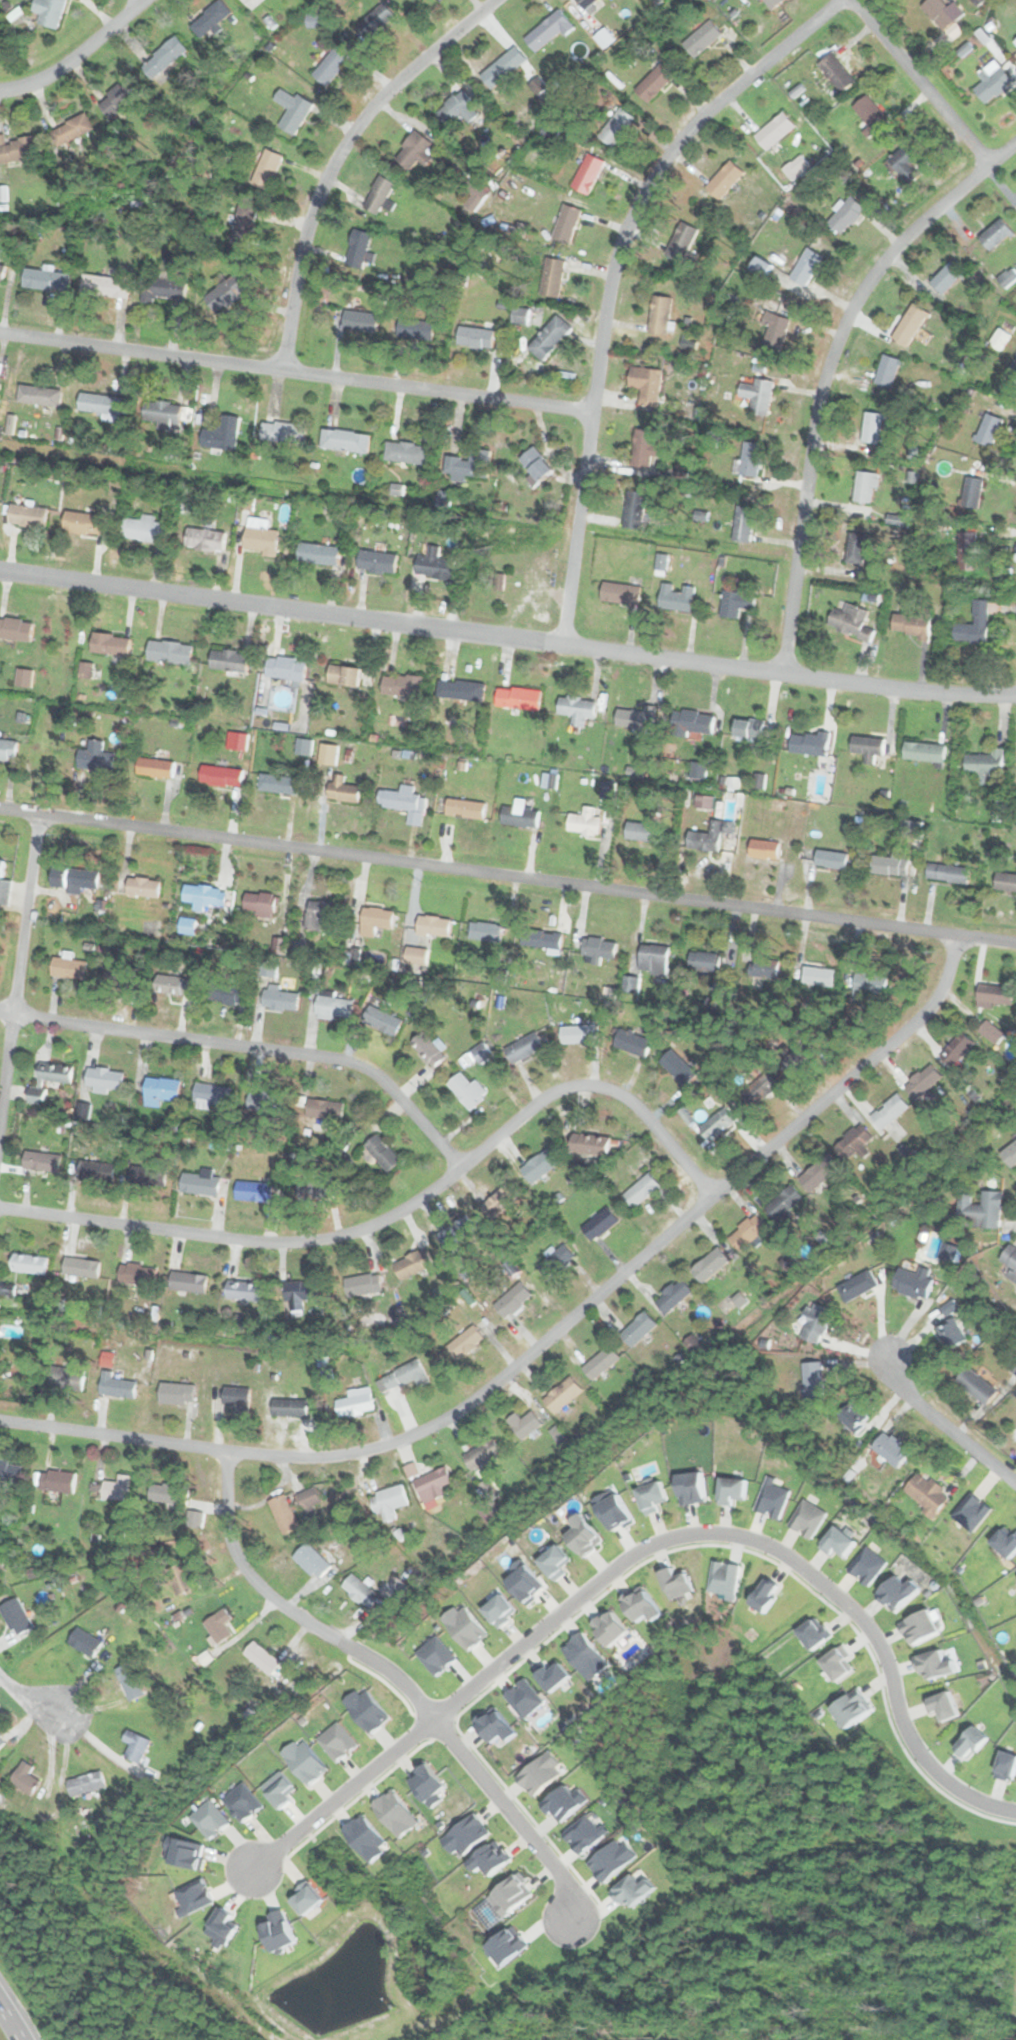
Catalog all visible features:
road: (140, 0)
building: (585, 3)
building: (772, 3)
building: (48, 11)
building: (943, 13)
building: (211, 19)
building: (375, 21)
building: (547, 30)
building: (604, 37)
building: (702, 38)
road: (76, 54)
building: (165, 56)
building: (330, 66)
building: (502, 66)
building: (836, 72)
building: (991, 81)
road: (919, 82)
building: (651, 84)
building: (122, 97)
building: (454, 108)
building: (292, 110)
building: (870, 113)
building: (615, 125)
building: (72, 129)
building: (774, 130)
building: (19, 149)
building: (414, 150)
road: (336, 156)
building: (905, 163)
building: (796, 166)
building: (266, 168)
building: (587, 173)
building: (723, 180)
building: (378, 193)
building: (470, 199)
building: (846, 214)
building: (243, 223)
building: (566, 223)
building: (996, 234)
building: (681, 240)
building: (357, 249)
building: (806, 265)
building: (2, 272)
building: (551, 276)
building: (948, 277)
road: (611, 278)
building: (45, 279)
building: (107, 282)
building: (162, 287)
building: (226, 291)
building: (520, 314)
building: (659, 314)
building: (354, 319)
building: (910, 324)
building: (415, 329)
building: (774, 330)
building: (474, 336)
building: (549, 337)
building: (1001, 338)
building: (1012, 370)
building: (888, 371)
road: (295, 372)
road: (825, 372)
building: (646, 384)
building: (38, 395)
building: (760, 398)
building: (98, 404)
building: (164, 414)
building: (872, 427)
building: (988, 429)
building: (225, 431)
building: (278, 431)
building: (344, 440)
building: (644, 448)
building: (405, 452)
building: (750, 458)
building: (469, 463)
building: (535, 463)
building: (865, 486)
building: (972, 491)
building: (634, 511)
building: (25, 515)
building: (84, 522)
building: (743, 523)
building: (143, 528)
building: (259, 536)
building: (204, 538)
building: (856, 547)
building: (967, 549)
building: (317, 553)
building: (377, 561)
building: (435, 564)
building: (619, 593)
building: (674, 597)
building: (736, 602)
building: (851, 621)
building: (977, 623)
building: (911, 624)
building: (15, 628)
road: (507, 637)
building: (109, 643)
building: (169, 651)
building: (228, 659)
building: (285, 668)
building: (343, 675)
building: (23, 677)
building: (402, 684)
building: (460, 689)
building: (518, 697)
building: (579, 709)
building: (636, 718)
building: (693, 720)
building: (748, 727)
building: (810, 742)
building: (871, 747)
building: (7, 748)
building: (924, 751)
building: (327, 753)
building: (97, 754)
building: (986, 763)
building: (154, 767)
building: (220, 775)
building: (281, 783)
building: (344, 789)
building: (465, 808)
building: (520, 816)
building: (584, 822)
building: (640, 830)
building: (709, 836)
building: (764, 849)
building: (831, 859)
building: (891, 864)
building: (1, 866)
building: (949, 873)
road: (508, 875)
building: (75, 877)
building: (1007, 882)
building: (142, 887)
building: (204, 895)
building: (258, 902)
building: (319, 912)
building: (374, 920)
building: (433, 926)
building: (484, 931)
building: (544, 940)
building: (595, 948)
building: (415, 955)
building: (654, 955)
building: (704, 961)
road: (18, 962)
building: (765, 967)
building: (68, 968)
building: (817, 975)
building: (869, 984)
building: (172, 985)
building: (224, 992)
building: (994, 995)
building: (278, 998)
building: (333, 1004)
building: (382, 1021)
building: (577, 1032)
building: (990, 1032)
road: (250, 1043)
building: (633, 1043)
building: (524, 1047)
building: (428, 1049)
building: (956, 1050)
building: (797, 1058)
building: (678, 1066)
building: (103, 1077)
building: (48, 1079)
building: (923, 1081)
building: (759, 1087)
building: (160, 1090)
building: (465, 1090)
building: (210, 1094)
building: (264, 1101)
building: (323, 1109)
building: (889, 1110)
building: (717, 1124)
building: (852, 1141)
building: (589, 1144)
building: (382, 1152)
building: (1010, 1155)
building: (41, 1161)
building: (540, 1164)
building: (96, 1170)
building: (818, 1173)
building: (143, 1176)
building: (200, 1182)
building: (253, 1190)
building: (641, 1190)
building: (289, 1192)
building: (498, 1201)
building: (783, 1203)
building: (979, 1210)
road: (396, 1211)
building: (599, 1223)
building: (746, 1232)
building: (455, 1234)
building: (1010, 1260)
building: (555, 1261)
building: (23, 1262)
building: (411, 1264)
building: (710, 1264)
building: (80, 1266)
building: (136, 1273)
building: (187, 1281)
building: (913, 1281)
building: (362, 1285)
building: (857, 1285)
building: (7, 1289)
building: (243, 1290)
building: (298, 1293)
building: (672, 1295)
building: (512, 1300)
building: (816, 1323)
building: (637, 1328)
building: (949, 1333)
road: (546, 1338)
building: (466, 1340)
building: (600, 1362)
building: (402, 1376)
building: (62, 1379)
building: (812, 1380)
building: (116, 1385)
building: (976, 1385)
building: (176, 1392)
building: (561, 1394)
building: (236, 1398)
building: (354, 1405)
building: (288, 1407)
building: (852, 1416)
building: (523, 1423)
road: (943, 1425)
building: (888, 1448)
building: (481, 1454)
building: (9, 1471)
building: (57, 1481)
building: (431, 1485)
building: (116, 1488)
building: (174, 1494)
building: (925, 1494)
building: (308, 1499)
building: (387, 1499)
building: (282, 1514)
building: (196, 1519)
road: (646, 1546)
building: (313, 1560)
building: (1, 1561)
road: (241, 1567)
building: (359, 1591)
building: (15, 1617)
building: (218, 1625)
building: (82, 1640)
building: (261, 1658)
building: (128, 1681)
road: (28, 1700)
building: (2, 1740)
building: (134, 1745)
road: (472, 1766)
building: (23, 1778)
building: (85, 1784)
road: (10, 2020)

